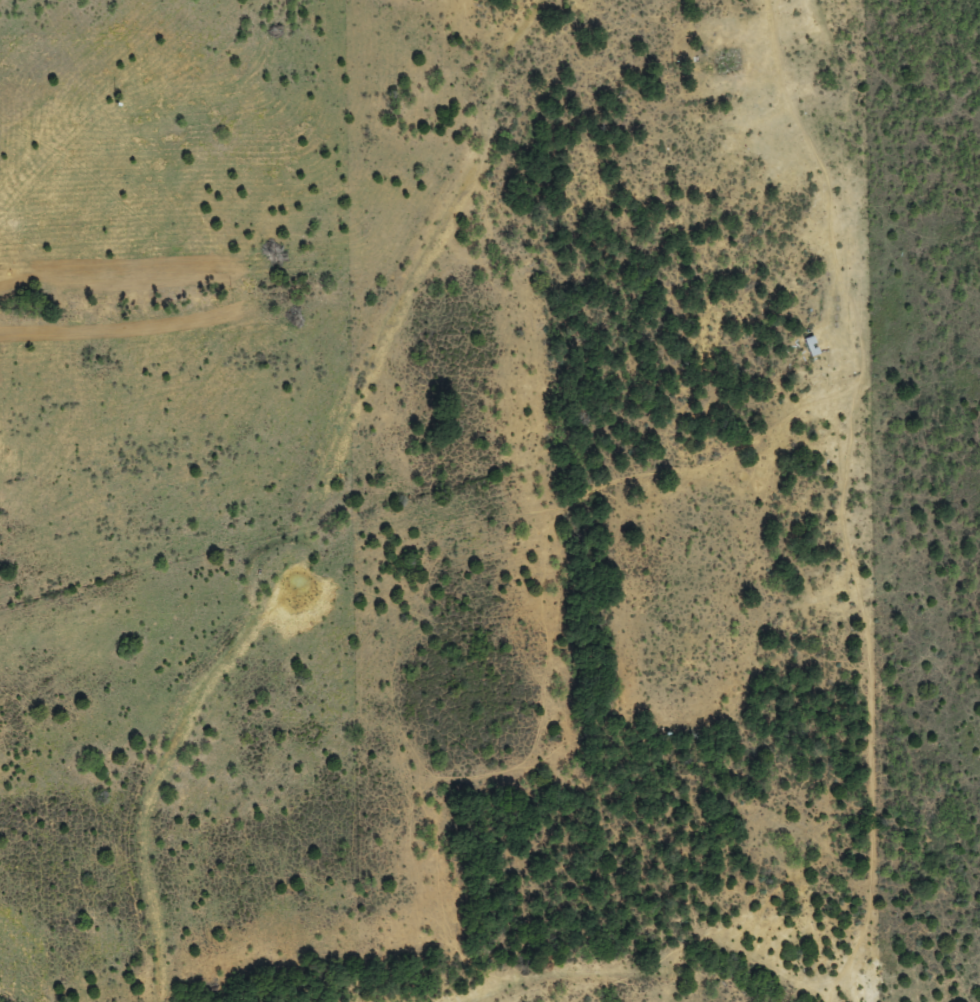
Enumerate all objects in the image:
building: (726, 62)
building: (809, 347)
road: (277, 519)
road: (894, 641)

